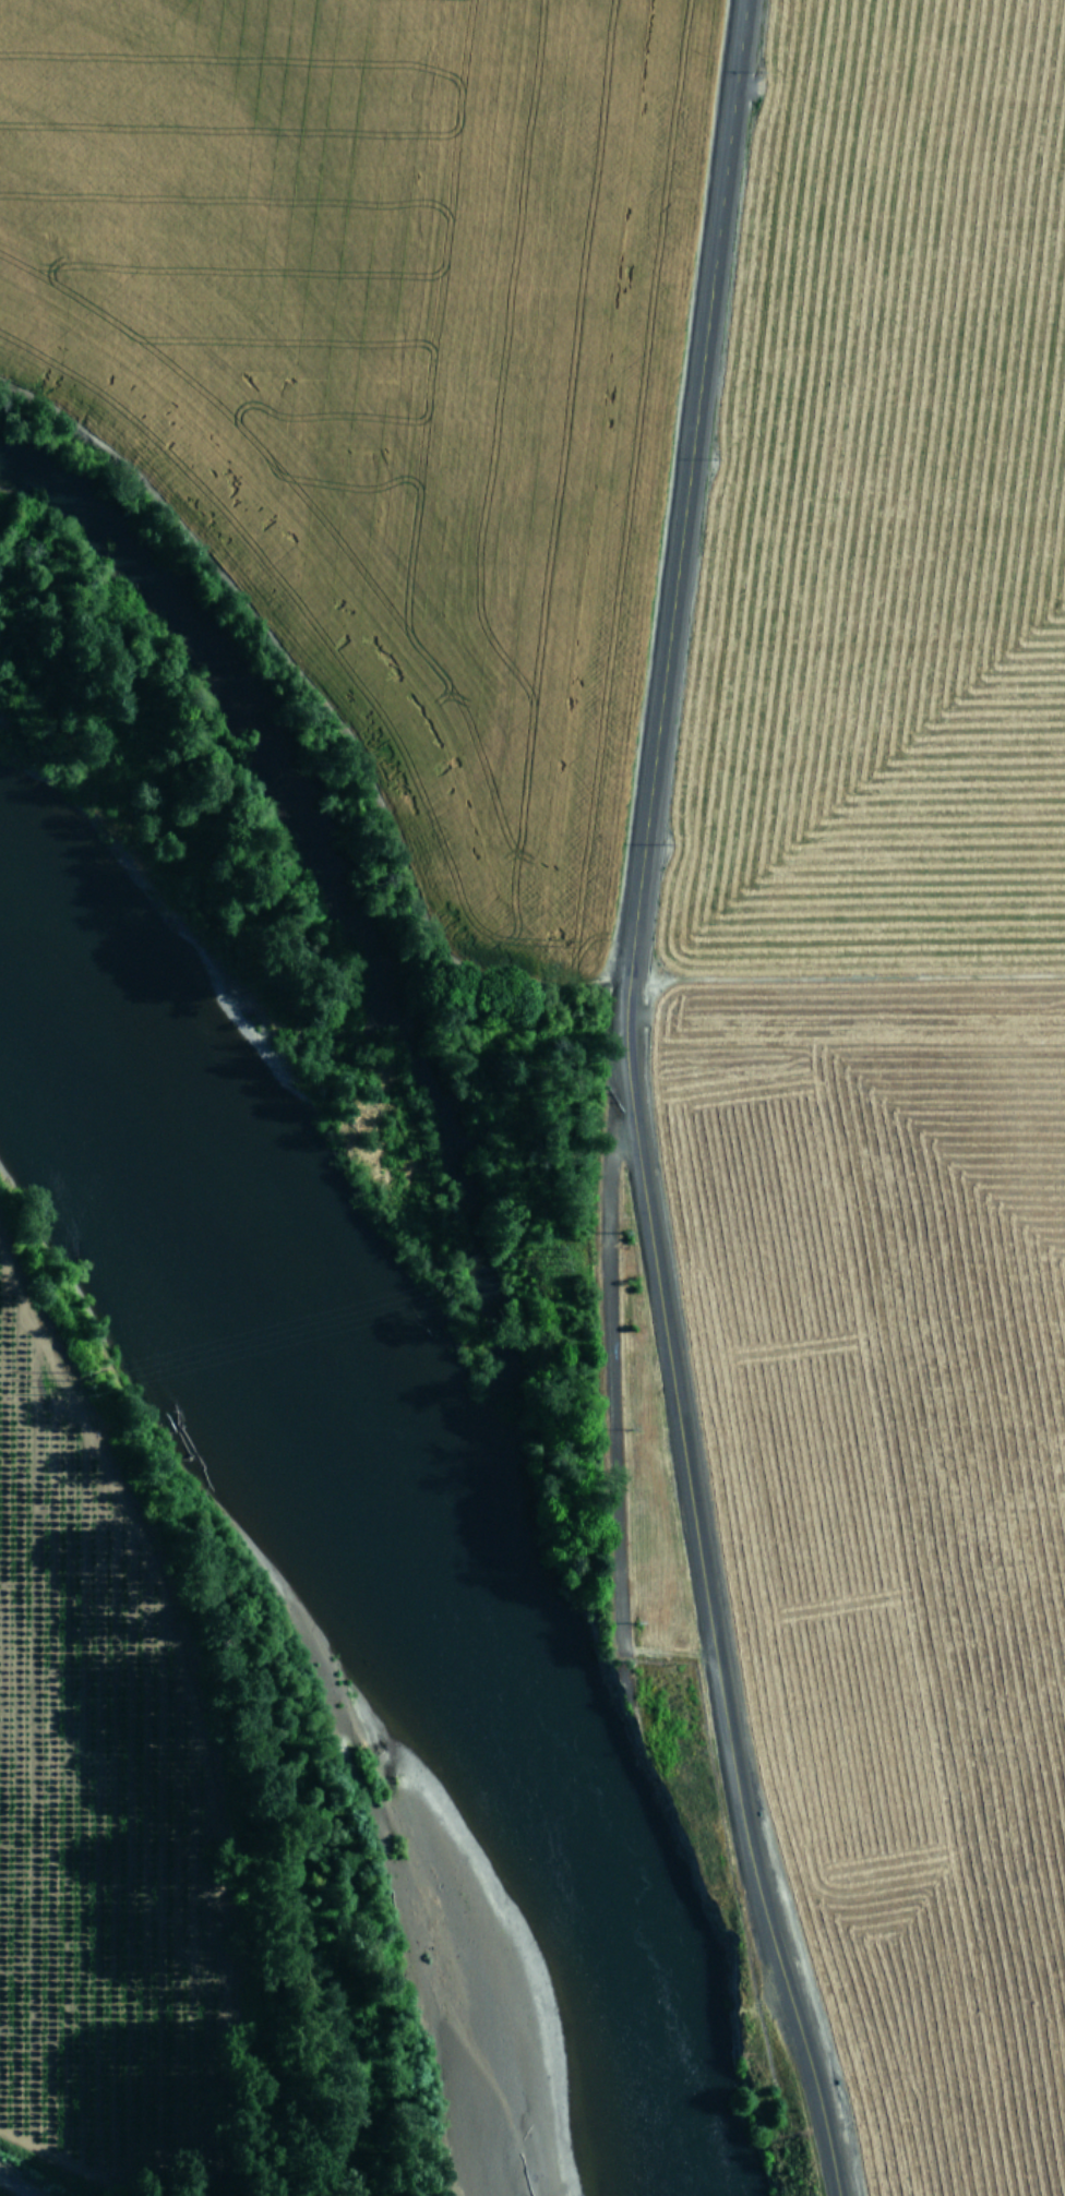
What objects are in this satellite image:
crop: (693, 796)
road: (626, 1097)
river: (415, 1517)
crop: (83, 1812)
road: (16, 2185)

